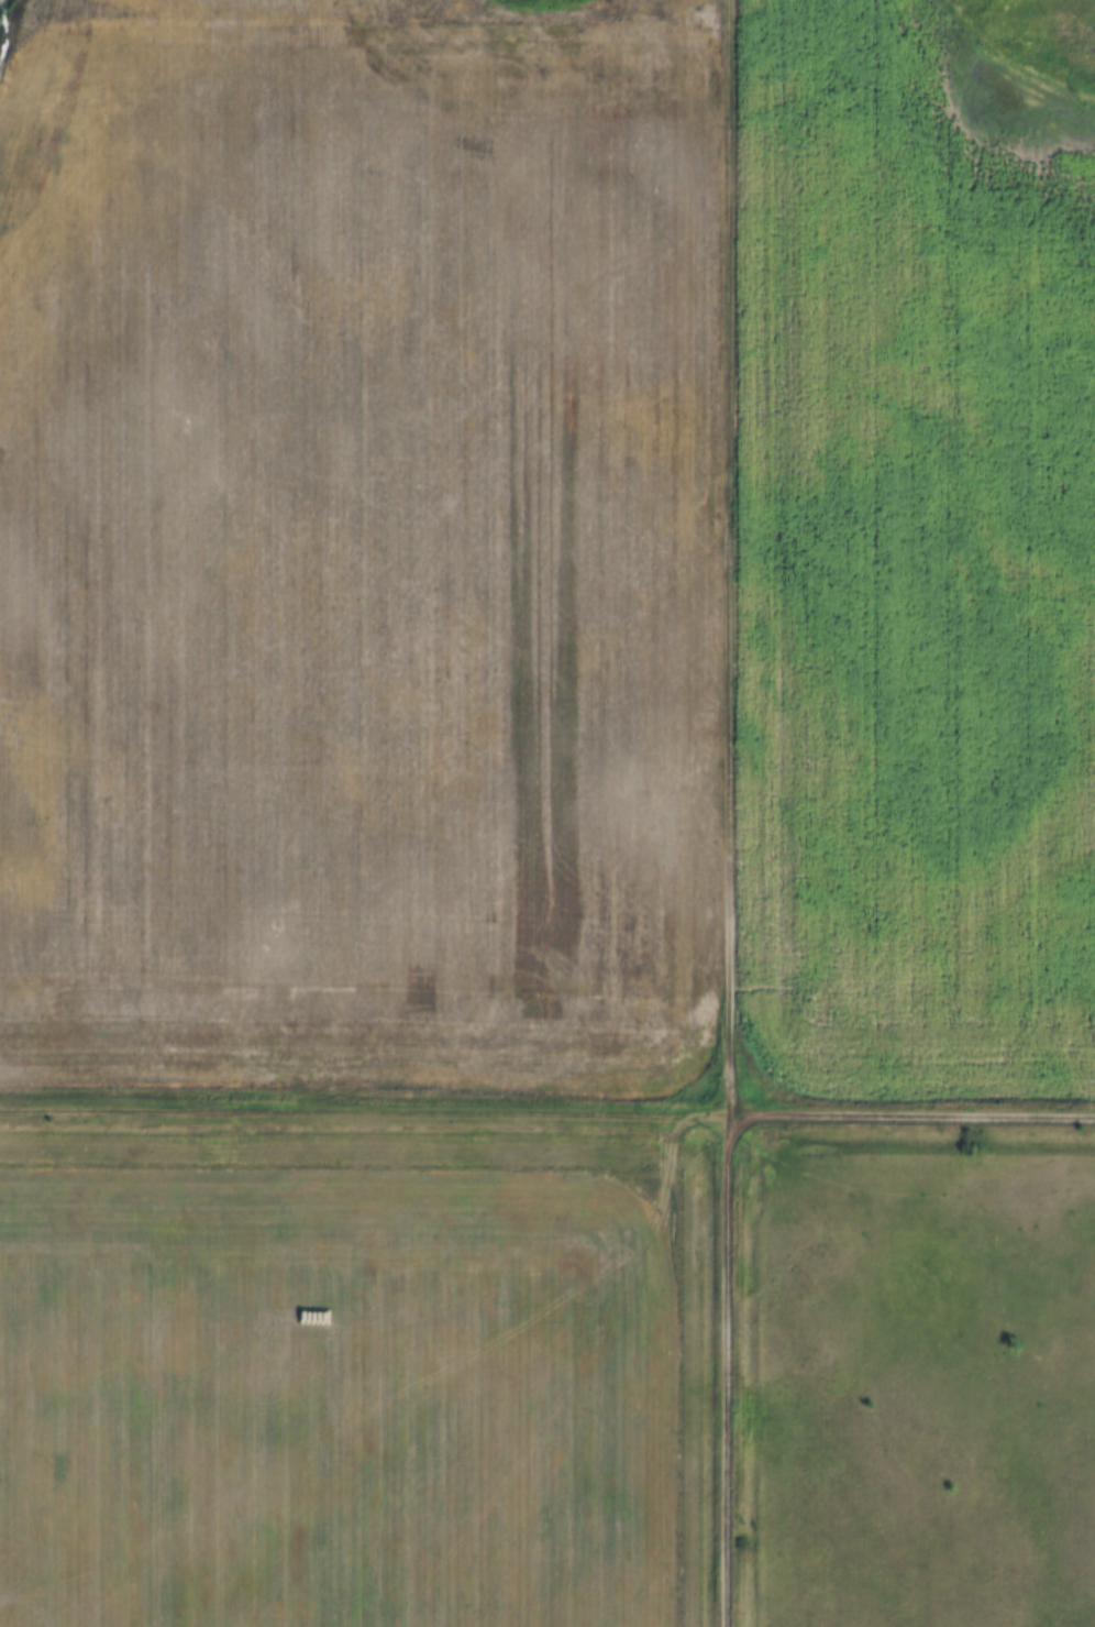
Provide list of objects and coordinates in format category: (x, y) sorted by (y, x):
road: (726, 813)
road: (546, 1112)

